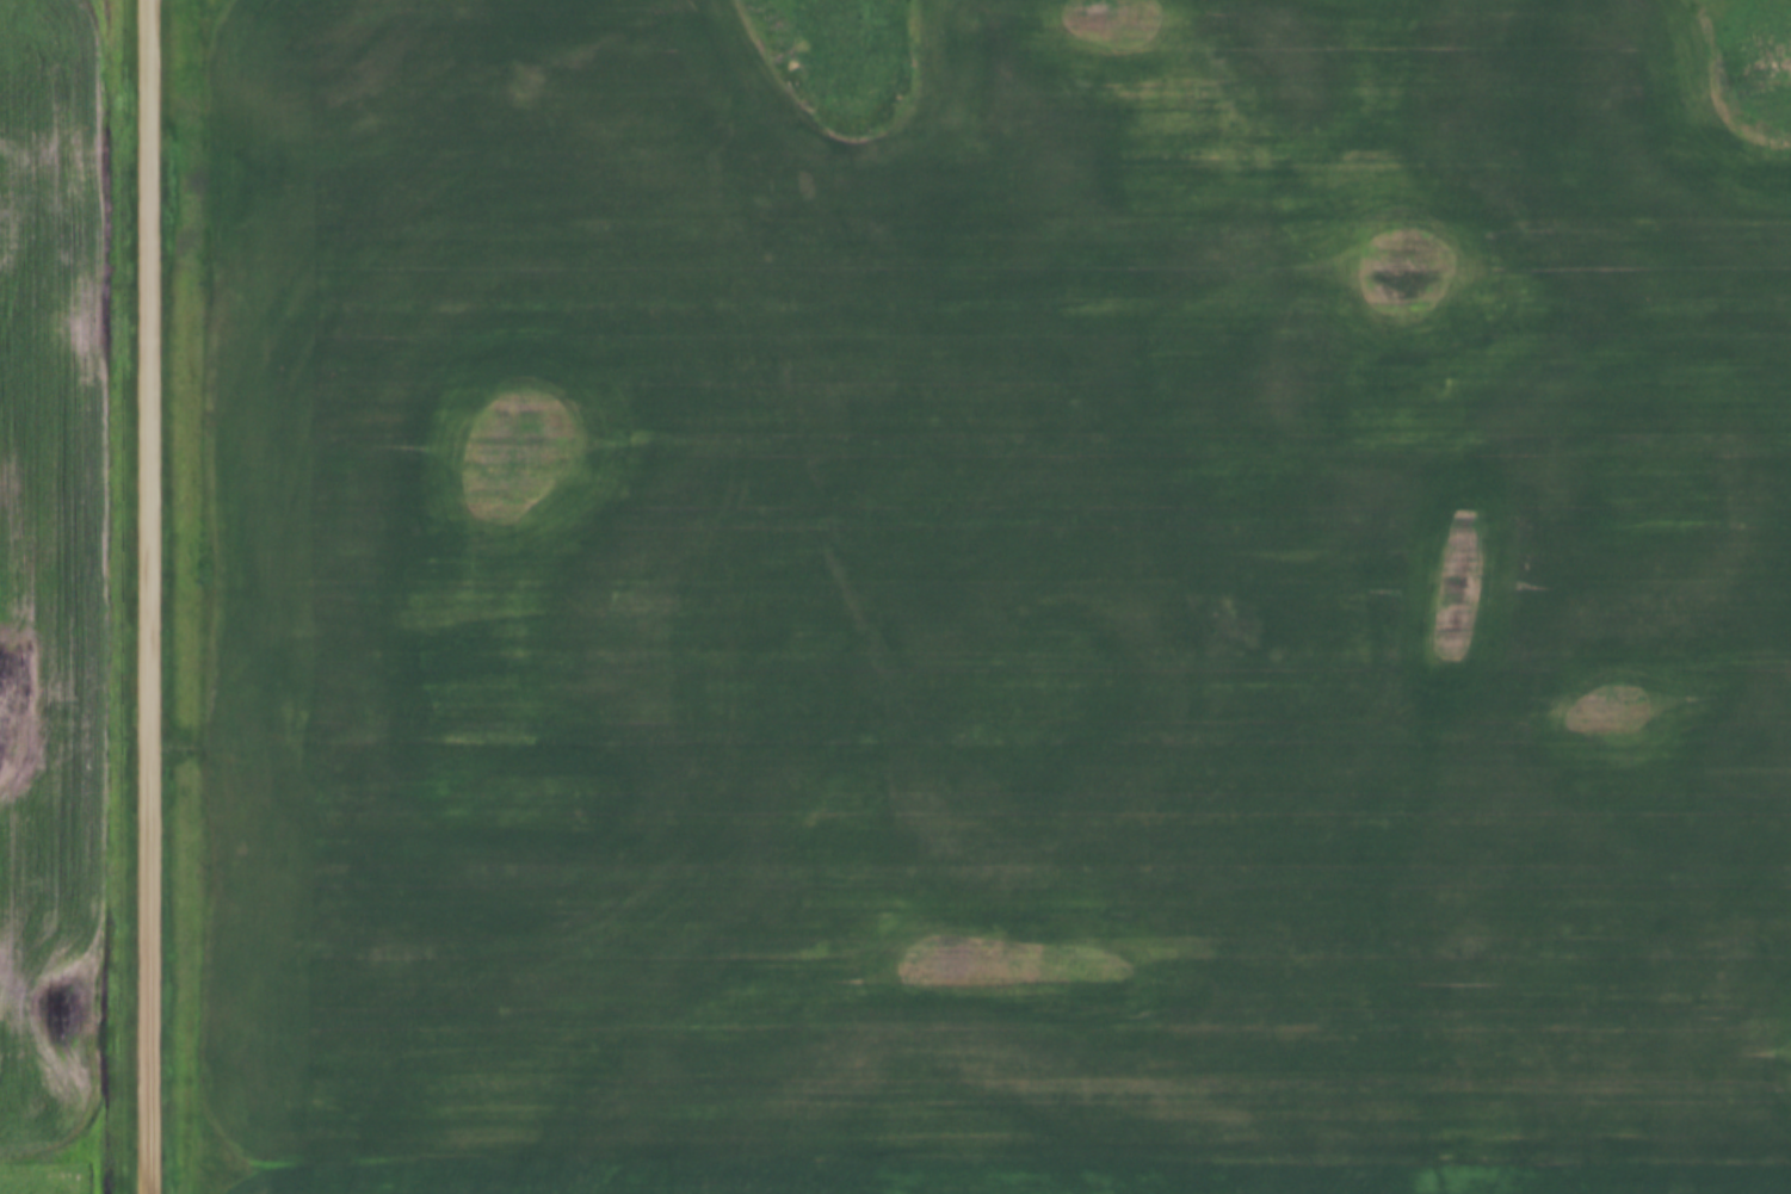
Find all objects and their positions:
road: (154, 596)
park: (43, 1177)

